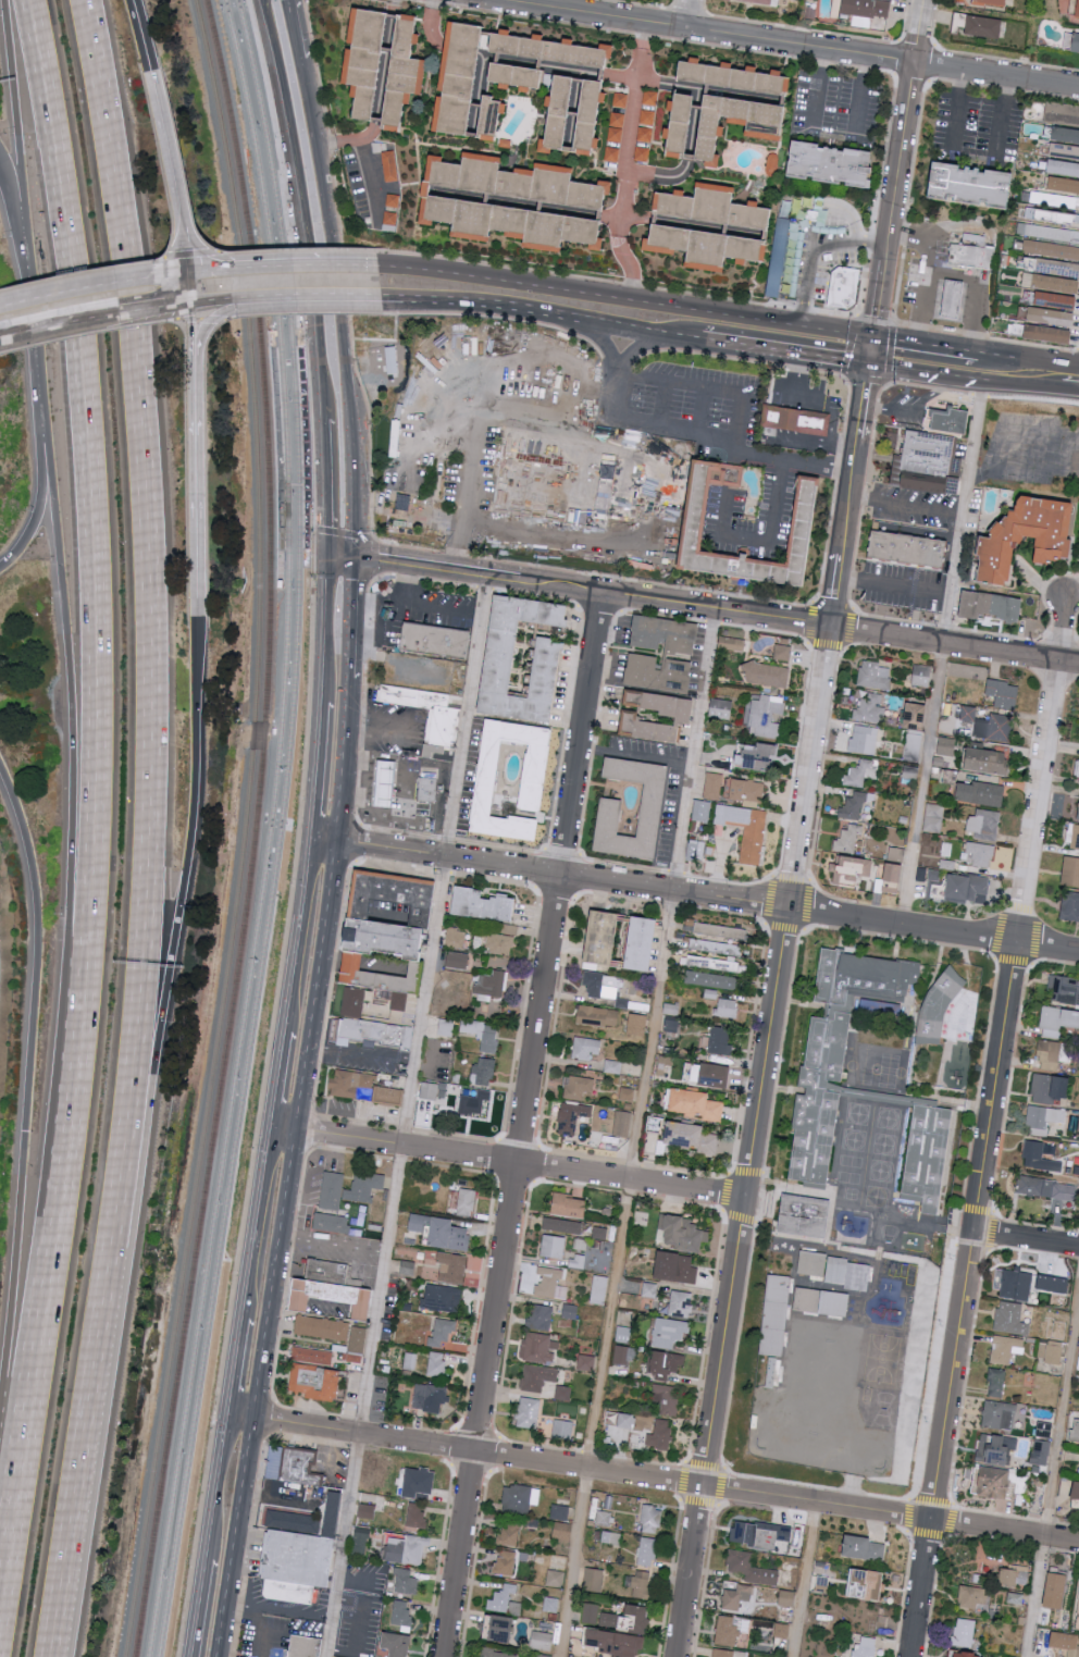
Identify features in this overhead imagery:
building: (758, 0)
building: (985, 2)
building: (865, 8)
building: (1078, 12)
road: (687, 13)
building: (981, 27)
road: (292, 29)
road: (919, 29)
road: (707, 30)
road: (144, 36)
building: (1076, 42)
building: (547, 51)
building: (365, 60)
building: (399, 72)
road: (996, 73)
building: (514, 76)
building: (457, 78)
building: (731, 79)
building: (555, 82)
building: (650, 98)
building: (621, 99)
building: (558, 113)
building: (1062, 114)
building: (488, 118)
building: (586, 118)
building: (647, 118)
road: (20, 121)
building: (617, 126)
building: (679, 126)
building: (762, 126)
building: (644, 134)
building: (1064, 136)
road: (831, 139)
road: (168, 143)
road: (365, 150)
road: (973, 151)
building: (1063, 152)
building: (612, 153)
building: (642, 153)
road: (629, 160)
building: (389, 165)
building: (829, 166)
building: (1063, 169)
building: (516, 184)
building: (969, 185)
building: (1061, 186)
road: (894, 198)
building: (1052, 200)
road: (15, 201)
road: (296, 208)
building: (709, 210)
building: (1051, 218)
building: (510, 222)
building: (1051, 234)
road: (186, 242)
building: (706, 245)
road: (297, 250)
road: (814, 250)
building: (1051, 251)
road: (191, 254)
building: (970, 259)
road: (393, 264)
road: (284, 265)
building: (1056, 269)
road: (925, 270)
traffic signals: (193, 272)
road: (83, 274)
road: (617, 283)
road: (96, 285)
building: (1054, 285)
building: (845, 287)
road: (976, 287)
road: (193, 288)
road: (309, 296)
road: (642, 299)
building: (951, 301)
building: (1053, 301)
road: (218, 302)
traffic signals: (193, 306)
road: (484, 306)
road: (335, 308)
road: (302, 313)
road: (111, 316)
road: (498, 318)
building: (1049, 318)
road: (213, 319)
road: (203, 320)
road: (856, 323)
road: (193, 326)
road: (38, 330)
road: (645, 330)
road: (89, 333)
road: (298, 334)
road: (15, 335)
building: (1045, 335)
traffic signals: (873, 337)
road: (895, 339)
road: (717, 342)
road: (605, 347)
road: (946, 348)
road: (767, 349)
road: (871, 350)
road: (633, 351)
road: (833, 359)
road: (982, 361)
road: (617, 362)
building: (301, 363)
traffic signals: (869, 364)
road: (451, 371)
road: (920, 371)
road: (1019, 372)
road: (980, 374)
road: (1065, 376)
road: (289, 385)
road: (489, 393)
road: (662, 405)
road: (702, 411)
road: (916, 411)
road: (483, 418)
building: (794, 421)
building: (951, 422)
road: (1050, 436)
road: (735, 437)
building: (278, 447)
building: (307, 447)
road: (785, 461)
building: (930, 463)
railway: (287, 473)
railway: (298, 474)
road: (197, 484)
road: (326, 486)
road: (849, 495)
road: (863, 495)
road: (40, 500)
building: (404, 502)
road: (905, 505)
road: (964, 506)
road: (311, 515)
road: (294, 516)
building: (802, 520)
building: (413, 521)
building: (281, 532)
road: (339, 533)
road: (762, 543)
building: (1007, 543)
traffic signals: (325, 556)
road: (339, 557)
building: (910, 558)
traffic signals: (354, 559)
road: (374, 561)
railway: (310, 568)
railway: (285, 578)
building: (278, 582)
road: (95, 583)
road: (894, 584)
road: (592, 591)
road: (148, 592)
road: (714, 592)
road: (813, 604)
building: (992, 606)
road: (410, 609)
road: (599, 610)
road: (351, 619)
road: (323, 630)
road: (954, 645)
building: (436, 647)
building: (783, 652)
building: (681, 655)
building: (503, 668)
building: (768, 676)
building: (873, 676)
building: (922, 676)
building: (1004, 693)
building: (413, 703)
building: (663, 704)
building: (721, 708)
building: (869, 708)
building: (766, 716)
building: (917, 716)
building: (989, 725)
building: (649, 729)
building: (273, 732)
road: (376, 732)
building: (864, 739)
building: (443, 740)
building: (913, 745)
building: (946, 746)
road: (634, 756)
building: (757, 756)
building: (989, 761)
building: (1077, 768)
road: (315, 772)
building: (859, 772)
building: (536, 776)
road: (922, 782)
road: (821, 784)
building: (712, 786)
building: (745, 790)
road: (70, 793)
building: (386, 793)
building: (982, 793)
building: (429, 795)
building: (854, 804)
building: (702, 811)
building: (1078, 814)
building: (611, 817)
building: (933, 818)
building: (984, 824)
railway: (244, 829)
road: (299, 829)
railway: (255, 830)
building: (746, 830)
building: (1074, 837)
building: (848, 839)
road: (548, 842)
building: (695, 851)
building: (896, 854)
building: (980, 854)
road: (579, 857)
road: (578, 860)
building: (853, 865)
building: (1070, 871)
building: (895, 873)
building: (851, 878)
road: (807, 881)
building: (969, 888)
road: (694, 892)
building: (398, 894)
road: (176, 906)
building: (485, 906)
building: (1070, 906)
road: (328, 907)
road: (1035, 915)
building: (719, 930)
building: (389, 933)
building: (604, 936)
road: (297, 937)
building: (455, 938)
building: (645, 941)
building: (499, 943)
building: (711, 945)
building: (457, 960)
building: (711, 963)
building: (384, 974)
building: (710, 979)
building: (492, 982)
building: (600, 984)
building: (1064, 989)
building: (373, 1002)
building: (615, 1002)
building: (727, 1007)
building: (937, 1007)
building: (597, 1015)
building: (1057, 1021)
building: (637, 1023)
building: (445, 1027)
building: (380, 1034)
building: (483, 1034)
building: (720, 1040)
building: (586, 1047)
building: (835, 1050)
road: (362, 1053)
building: (1050, 1054)
building: (483, 1071)
building: (707, 1073)
road: (25, 1076)
road: (275, 1081)
building: (578, 1086)
building: (371, 1087)
building: (1050, 1087)
building: (430, 1090)
building: (474, 1102)
building: (697, 1104)
road: (1007, 1108)
road: (406, 1116)
building: (571, 1116)
building: (1043, 1116)
road: (523, 1124)
building: (622, 1125)
road: (988, 1127)
road: (282, 1133)
road: (636, 1133)
building: (693, 1136)
road: (752, 1141)
building: (653, 1142)
road: (539, 1145)
building: (926, 1157)
building: (1039, 1157)
road: (520, 1162)
building: (1046, 1188)
building: (345, 1191)
road: (725, 1192)
building: (467, 1201)
building: (570, 1204)
road: (992, 1216)
building: (803, 1217)
road: (255, 1225)
building: (330, 1225)
building: (563, 1225)
building: (443, 1231)
road: (938, 1231)
building: (682, 1232)
road: (1026, 1237)
road: (333, 1244)
building: (553, 1246)
building: (578, 1260)
building: (677, 1266)
building: (452, 1268)
building: (328, 1271)
building: (832, 1271)
building: (551, 1283)
building: (1053, 1283)
building: (1016, 1284)
building: (598, 1289)
building: (649, 1289)
building: (328, 1297)
building: (443, 1298)
railway: (199, 1303)
building: (681, 1303)
building: (820, 1303)
railway: (209, 1304)
building: (570, 1310)
building: (541, 1316)
building: (772, 1316)
building: (1010, 1318)
building: (1057, 1326)
building: (322, 1327)
building: (442, 1332)
building: (671, 1332)
building: (624, 1334)
building: (356, 1344)
building: (538, 1347)
building: (1006, 1348)
building: (1051, 1351)
building: (622, 1353)
building: (312, 1355)
building: (586, 1362)
building: (666, 1362)
building: (436, 1363)
road: (30, 1367)
road: (234, 1367)
building: (537, 1376)
road: (966, 1377)
building: (320, 1383)
building: (996, 1383)
building: (563, 1393)
road: (258, 1396)
building: (430, 1396)
building: (668, 1398)
building: (529, 1412)
building: (997, 1414)
building: (628, 1420)
road: (86, 1422)
building: (563, 1429)
building: (660, 1435)
road: (496, 1436)
building: (996, 1448)
building: (302, 1466)
road: (653, 1477)
road: (1053, 1479)
building: (993, 1482)
road: (216, 1487)
building: (1076, 1491)
building: (520, 1498)
road: (915, 1500)
road: (716, 1504)
building: (367, 1510)
building: (560, 1511)
building: (416, 1513)
building: (604, 1518)
building: (652, 1519)
building: (312, 1520)
building: (562, 1530)
building: (760, 1533)
building: (509, 1535)
building: (611, 1536)
road: (945, 1536)
road: (952, 1536)
building: (360, 1542)
building: (865, 1547)
building: (398, 1548)
building: (647, 1550)
building: (299, 1559)
building: (506, 1562)
building: (751, 1568)
building: (1014, 1575)
building: (556, 1578)
building: (593, 1579)
road: (704, 1580)
road: (805, 1580)
road: (356, 1581)
building: (405, 1581)
building: (642, 1583)
building: (866, 1583)
building: (1056, 1590)
building: (292, 1594)
road: (904, 1594)
building: (736, 1596)
building: (972, 1596)
building: (786, 1597)
building: (505, 1599)
building: (550, 1604)
road: (198, 1608)
building: (591, 1612)
road: (293, 1613)
building: (401, 1615)
building: (629, 1619)
road: (260, 1621)
building: (1078, 1625)
building: (498, 1628)
road: (358, 1629)
building: (728, 1631)
building: (965, 1632)
building: (542, 1640)
building: (617, 1642)
building: (1066, 1642)
building: (397, 1643)
building: (308, 1647)
building: (867, 1647)
building: (729, 1653)
building: (497, 1654)
building: (970, 1654)

